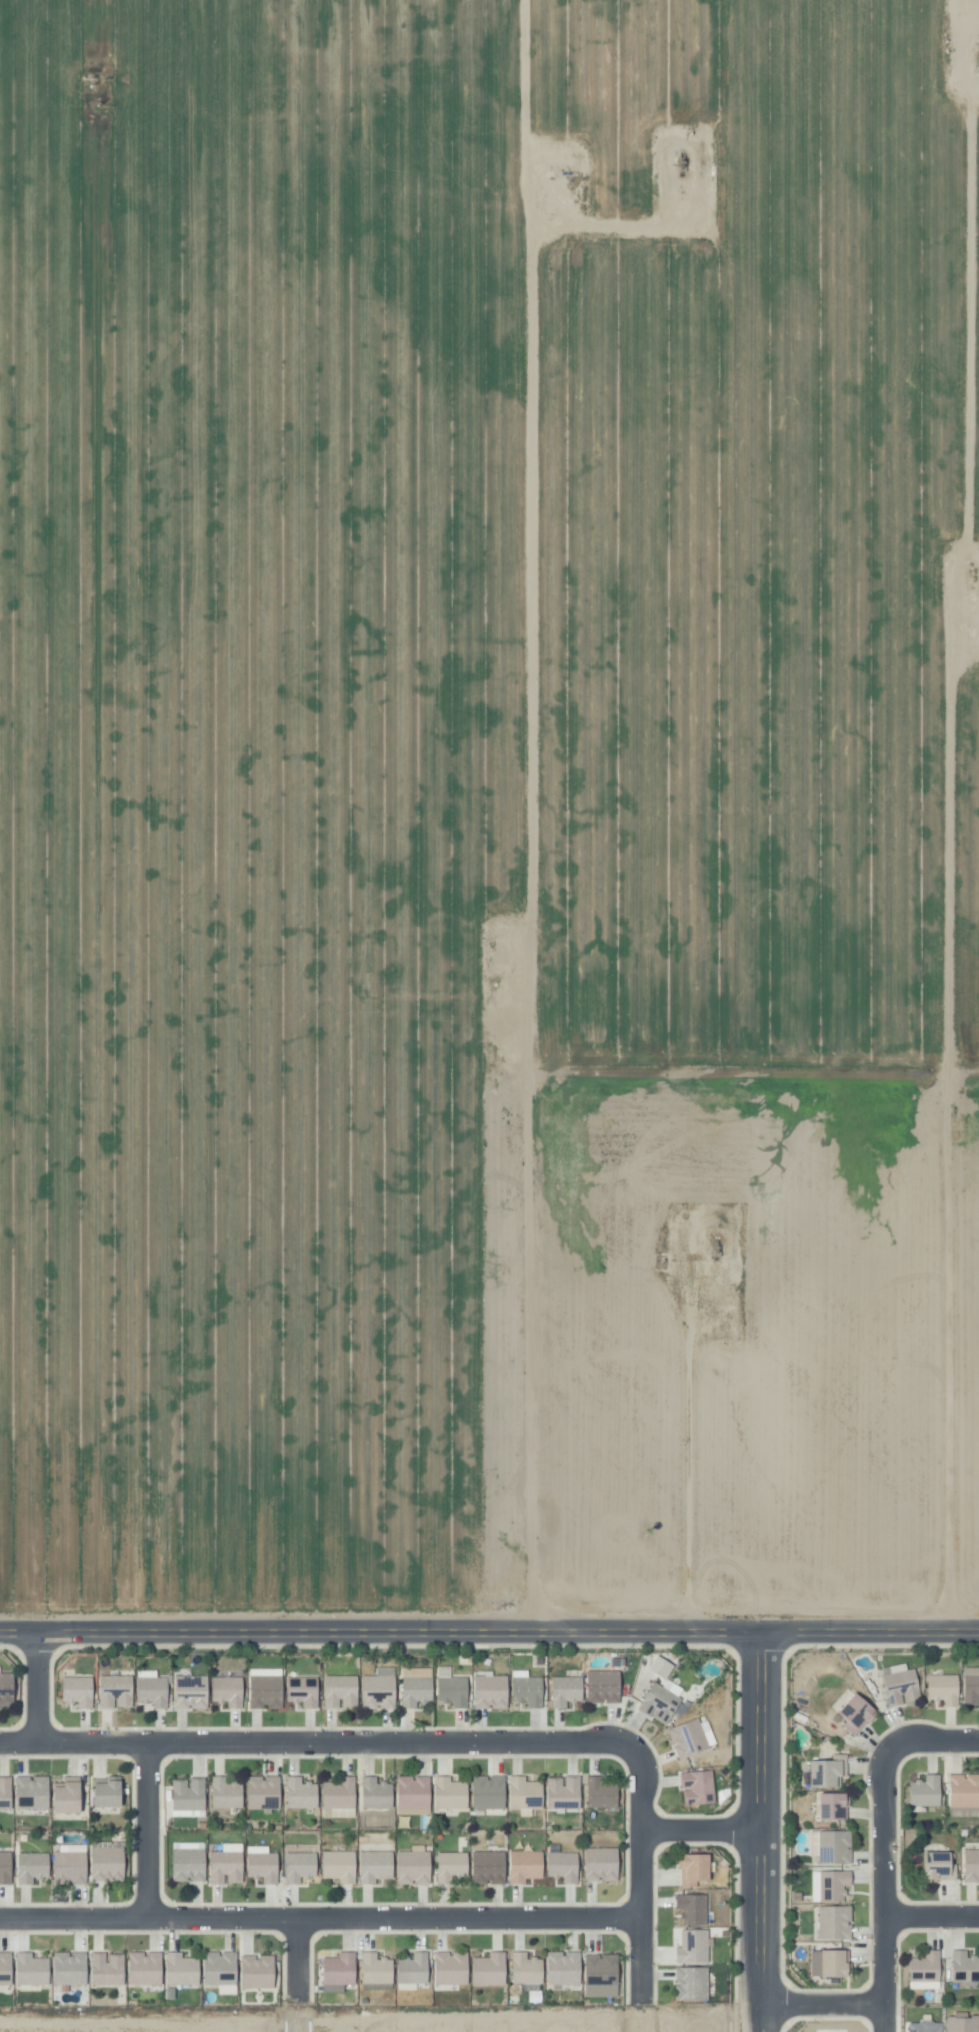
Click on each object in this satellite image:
petroleum well: (978, 52)
petroleum well: (680, 162)
petroleum well: (562, 173)
road: (489, 1624)
road: (39, 1682)
building: (901, 1685)
building: (419, 1686)
building: (604, 1686)
building: (8, 1689)
building: (383, 1689)
building: (943, 1689)
building: (971, 1689)
building: (157, 1690)
building: (231, 1690)
building: (456, 1690)
building: (532, 1690)
building: (569, 1690)
building: (81, 1691)
building: (119, 1691)
building: (305, 1691)
building: (341, 1691)
building: (494, 1691)
building: (194, 1692)
building: (269, 1693)
building: (658, 1703)
building: (856, 1714)
building: (685, 1739)
road: (929, 1739)
road: (319, 1740)
building: (824, 1772)
building: (697, 1788)
building: (35, 1792)
building: (108, 1792)
building: (265, 1792)
building: (303, 1792)
building: (415, 1792)
building: (602, 1792)
building: (925, 1792)
building: (7, 1793)
building: (228, 1793)
building: (341, 1793)
building: (378, 1793)
building: (452, 1793)
building: (492, 1793)
building: (527, 1793)
building: (567, 1793)
building: (190, 1794)
building: (72, 1795)
building: (964, 1795)
building: (833, 1807)
road: (145, 1826)
road: (762, 1828)
road: (700, 1830)
building: (835, 1847)
building: (111, 1864)
building: (193, 1864)
building: (561, 1864)
building: (599, 1864)
building: (303, 1866)
building: (337, 1866)
building: (373, 1866)
building: (412, 1866)
building: (449, 1866)
building: (523, 1866)
building: (972, 1866)
building: (7, 1867)
building: (34, 1867)
building: (228, 1867)
building: (266, 1867)
building: (487, 1867)
building: (73, 1868)
building: (937, 1868)
building: (693, 1869)
building: (833, 1885)
road: (639, 1886)
road: (888, 1896)
building: (690, 1909)
road: (319, 1913)
road: (933, 1916)
building: (834, 1922)
building: (691, 1946)
building: (835, 1965)
building: (925, 1967)
building: (964, 1967)
building: (7, 1968)
building: (449, 1968)
building: (561, 1968)
building: (35, 1969)
building: (73, 1969)
building: (149, 1969)
building: (185, 1969)
building: (224, 1969)
building: (342, 1969)
building: (411, 1969)
building: (487, 1969)
building: (524, 1969)
building: (111, 1970)
building: (261, 1971)
road: (298, 1972)
building: (374, 1972)
building: (599, 1975)
building: (689, 1984)
road: (824, 1999)
building: (961, 2024)
building: (922, 2026)

